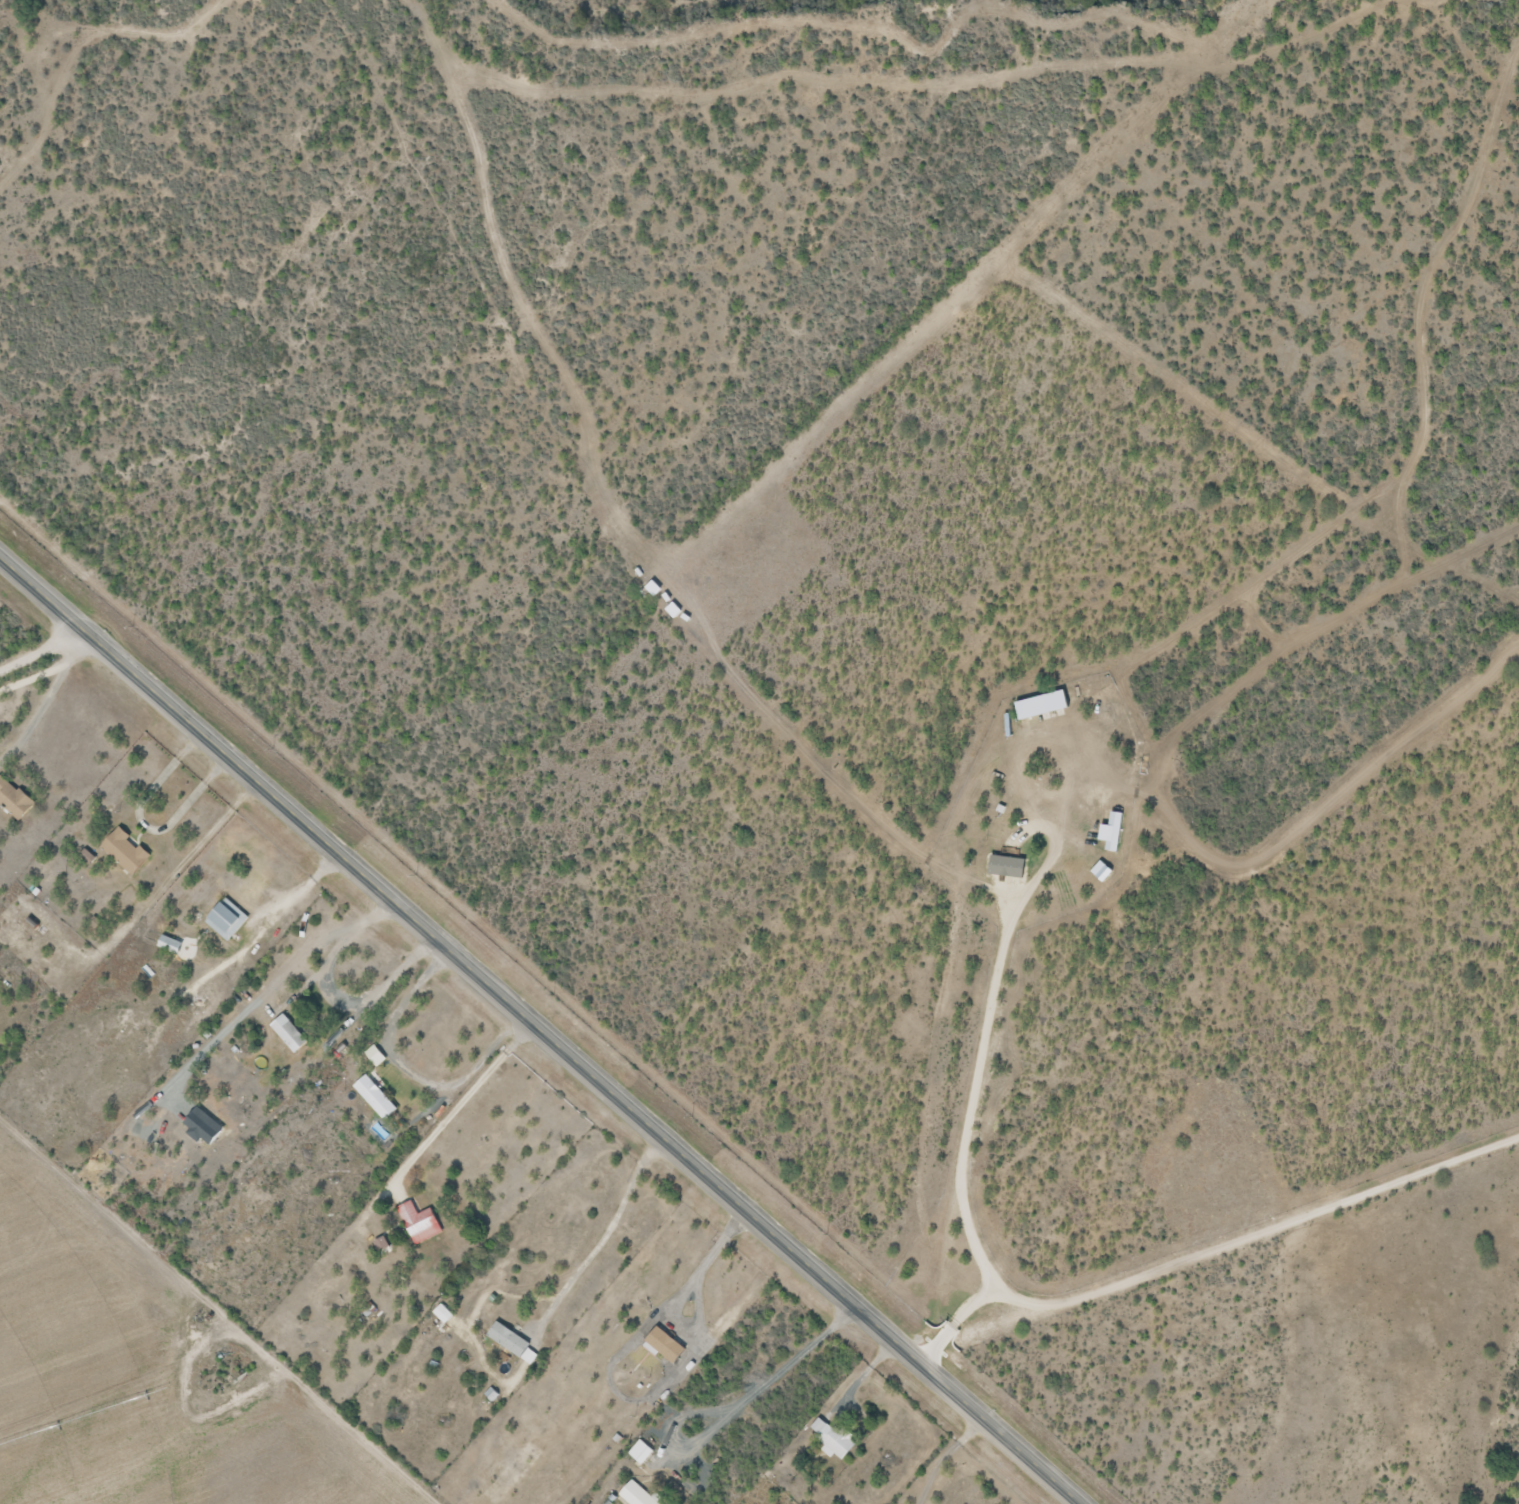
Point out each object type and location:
road: (1220, 712)
road: (75, 720)
building: (12, 800)
building: (1006, 848)
building: (122, 851)
building: (220, 919)
railway: (585, 983)
road: (543, 1027)
building: (286, 1033)
building: (371, 1097)
building: (1126, 1221)
building: (417, 1223)
building: (508, 1342)
building: (831, 1441)
building: (637, 1452)
building: (633, 1495)

